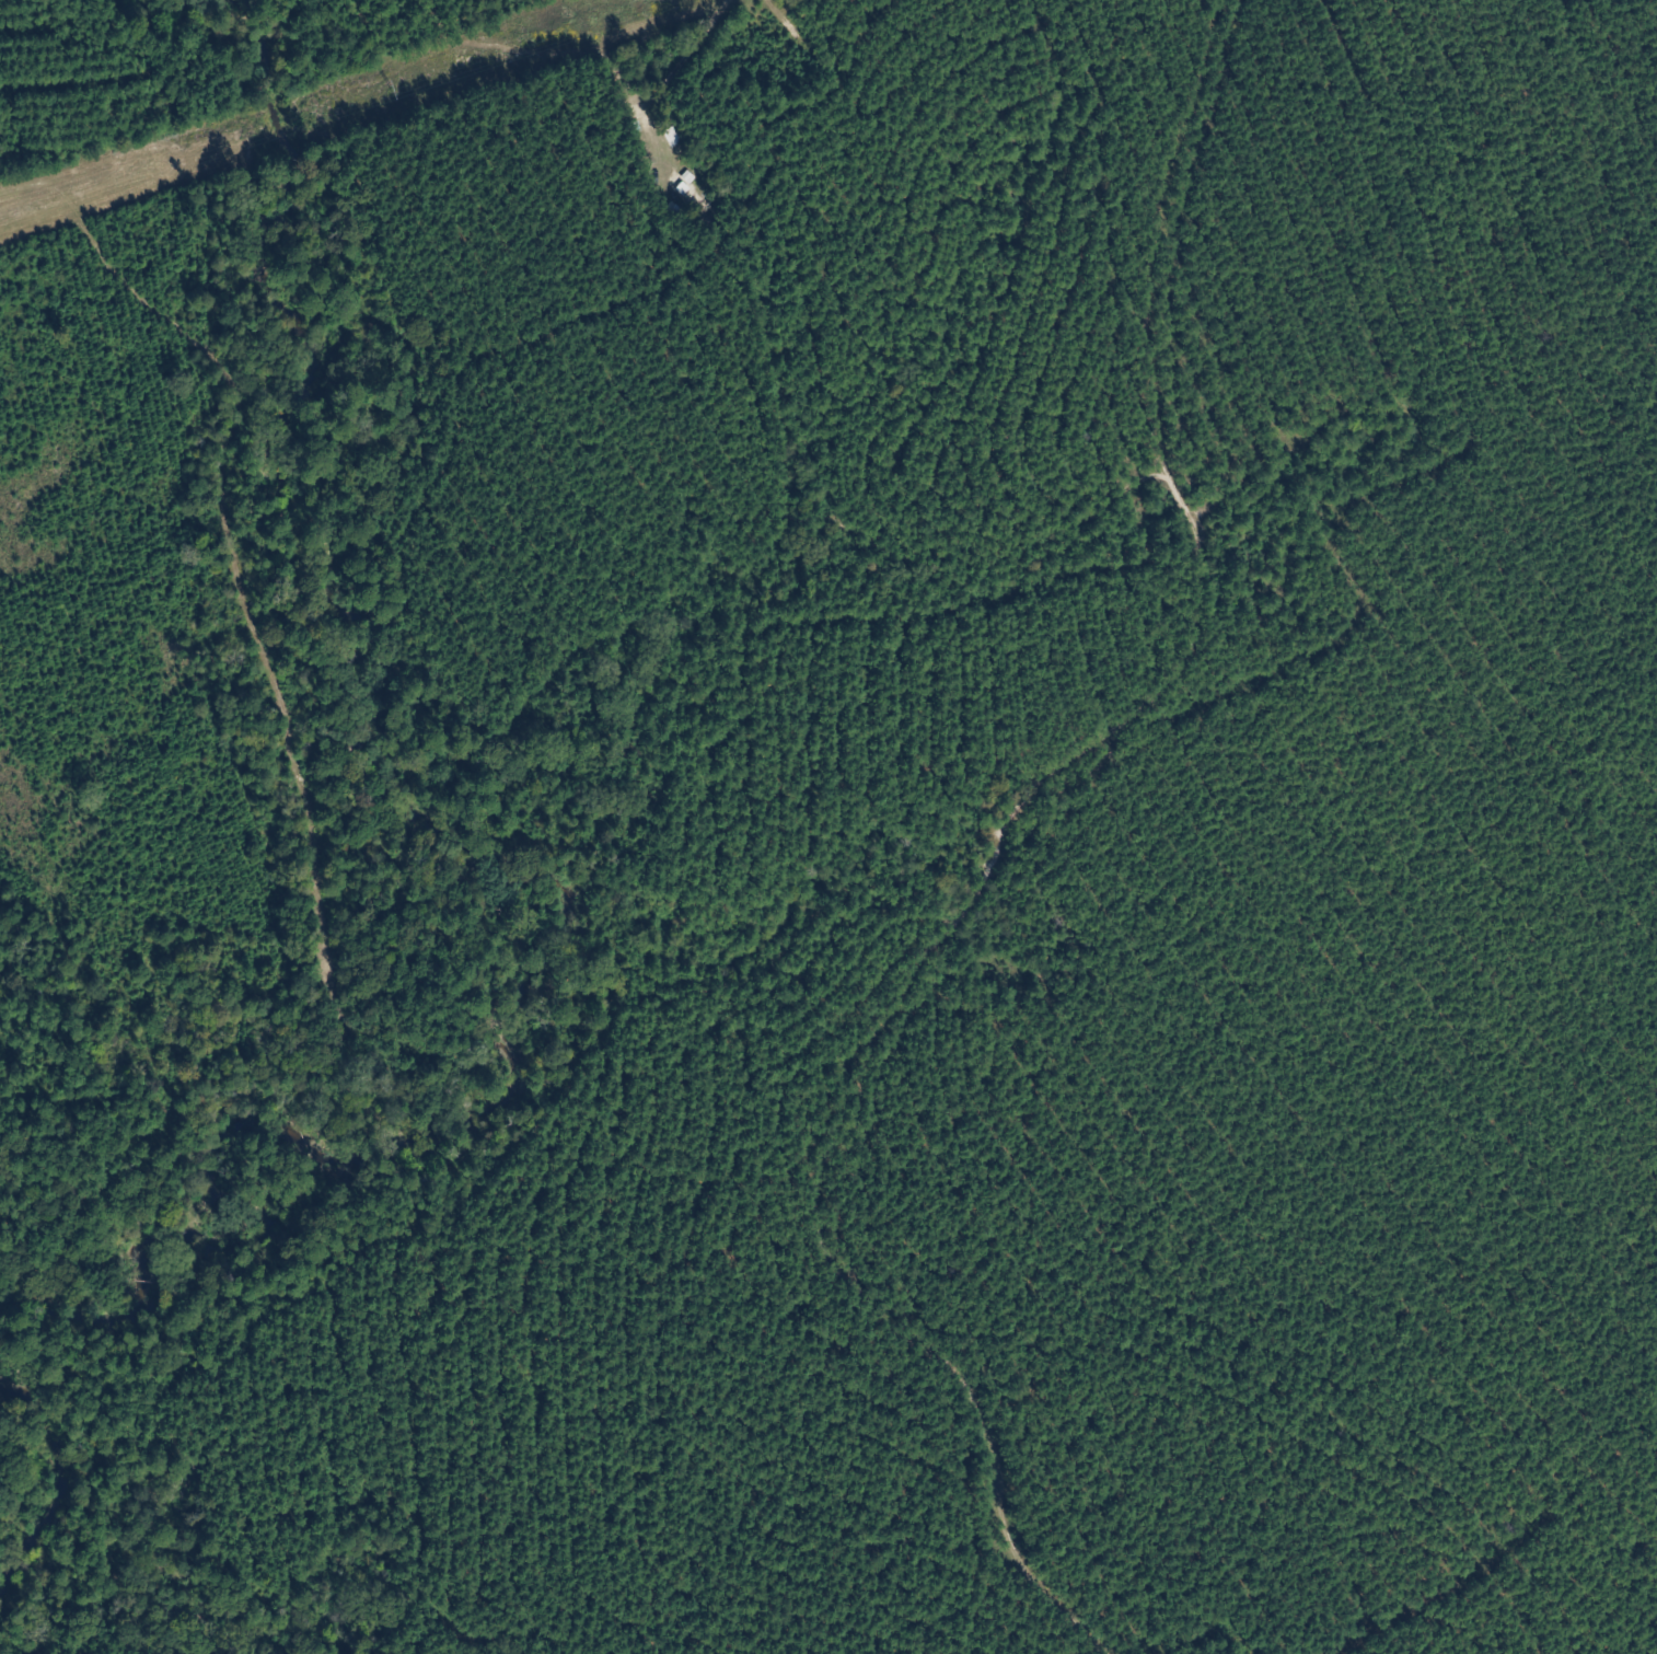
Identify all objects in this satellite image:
power tower: (389, 90)
road: (1421, 245)

